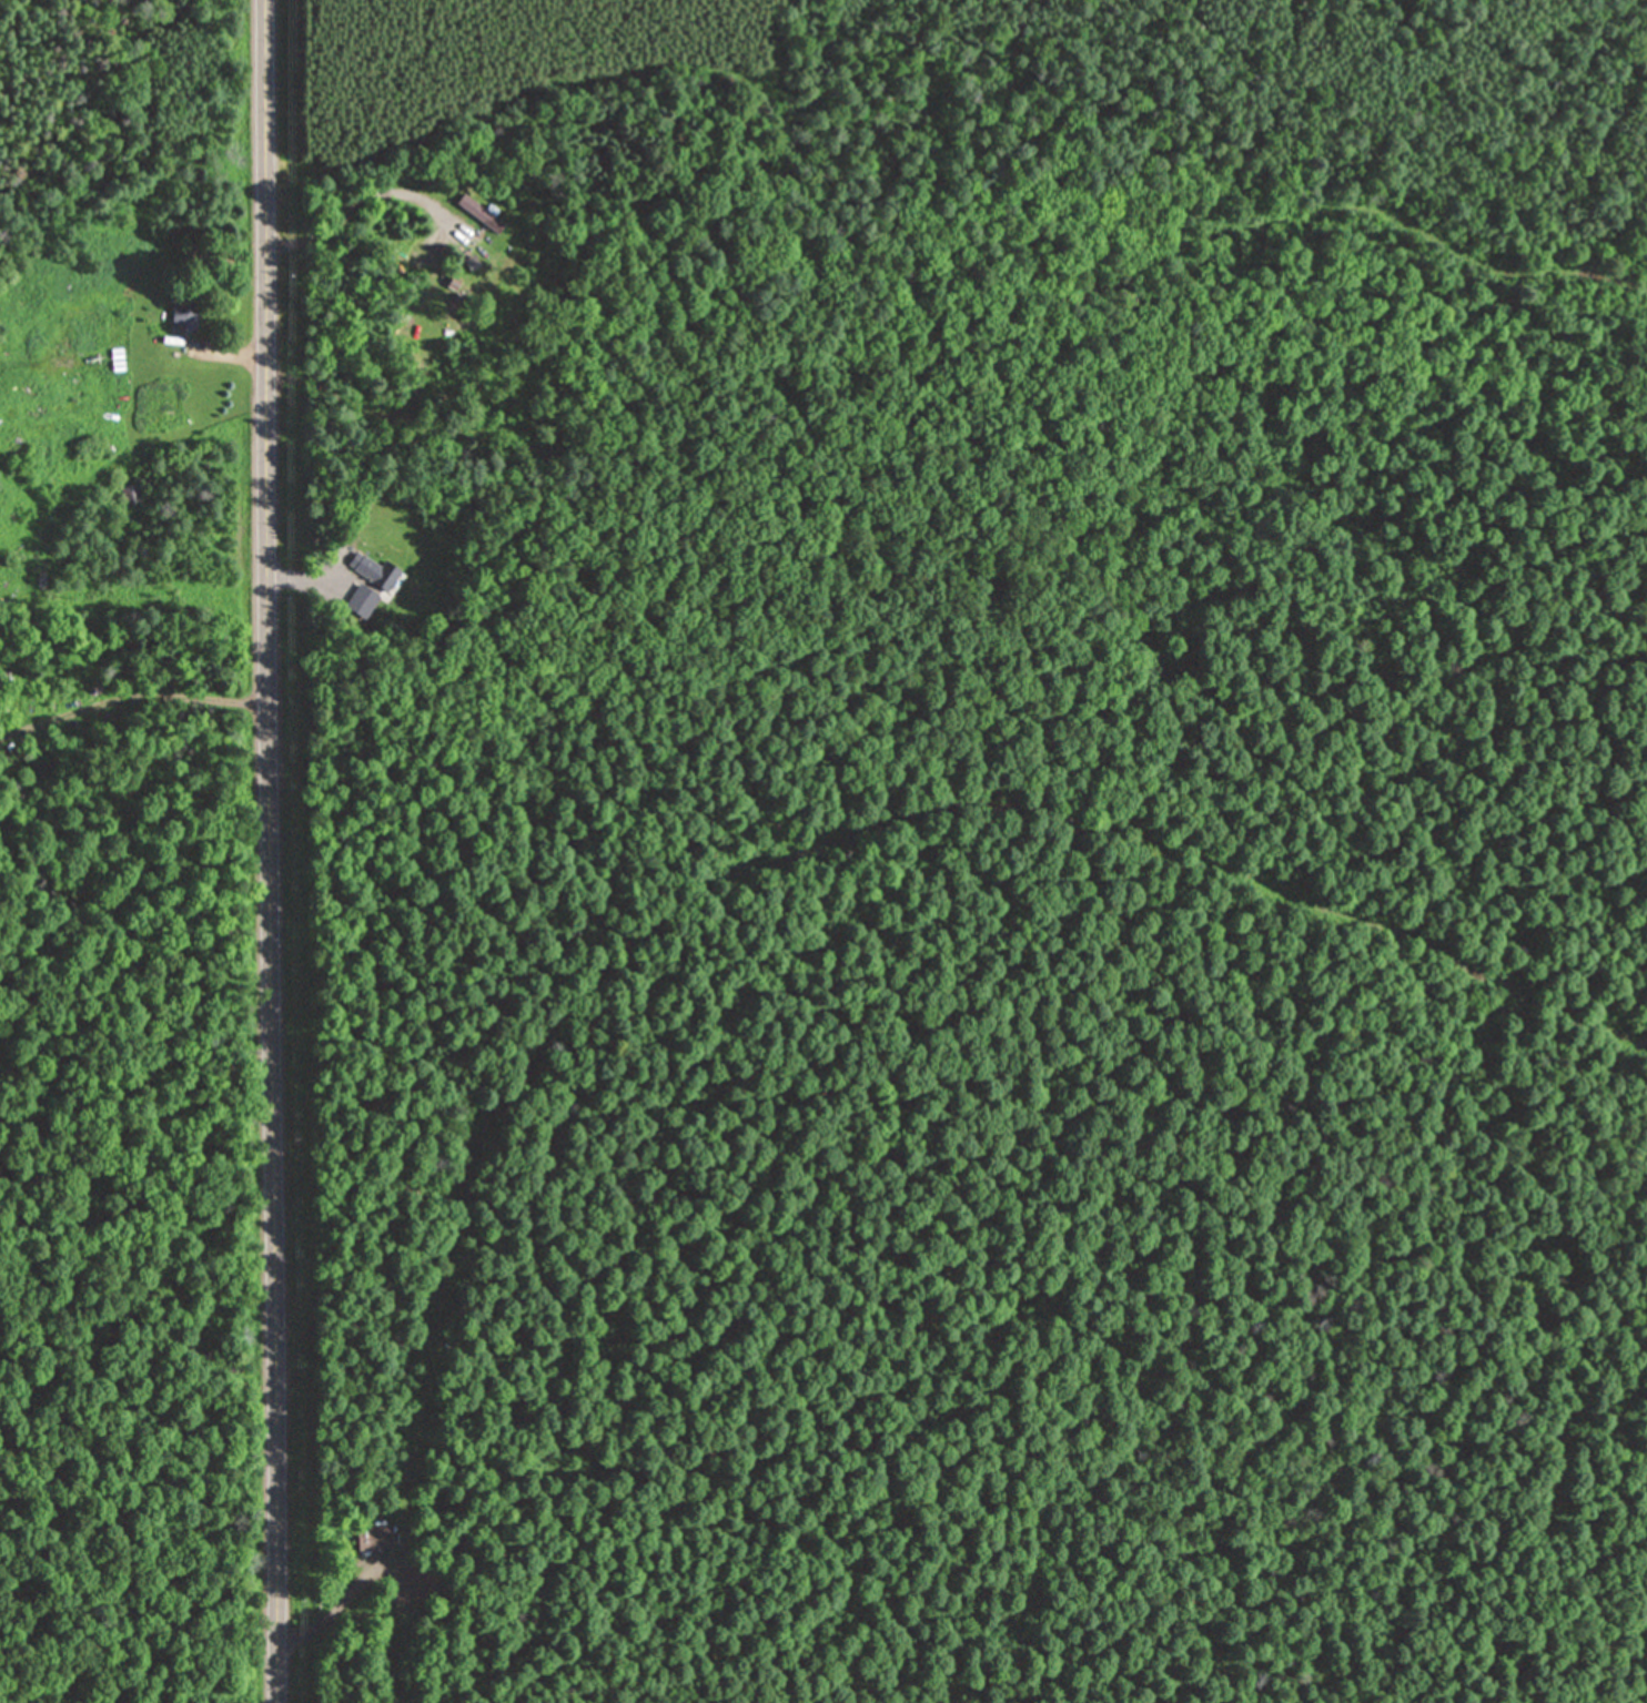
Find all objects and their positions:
road: (356, 199)
building: (477, 212)
building: (184, 312)
road: (232, 354)
building: (129, 493)
building: (372, 569)
road: (293, 575)
road: (265, 851)

